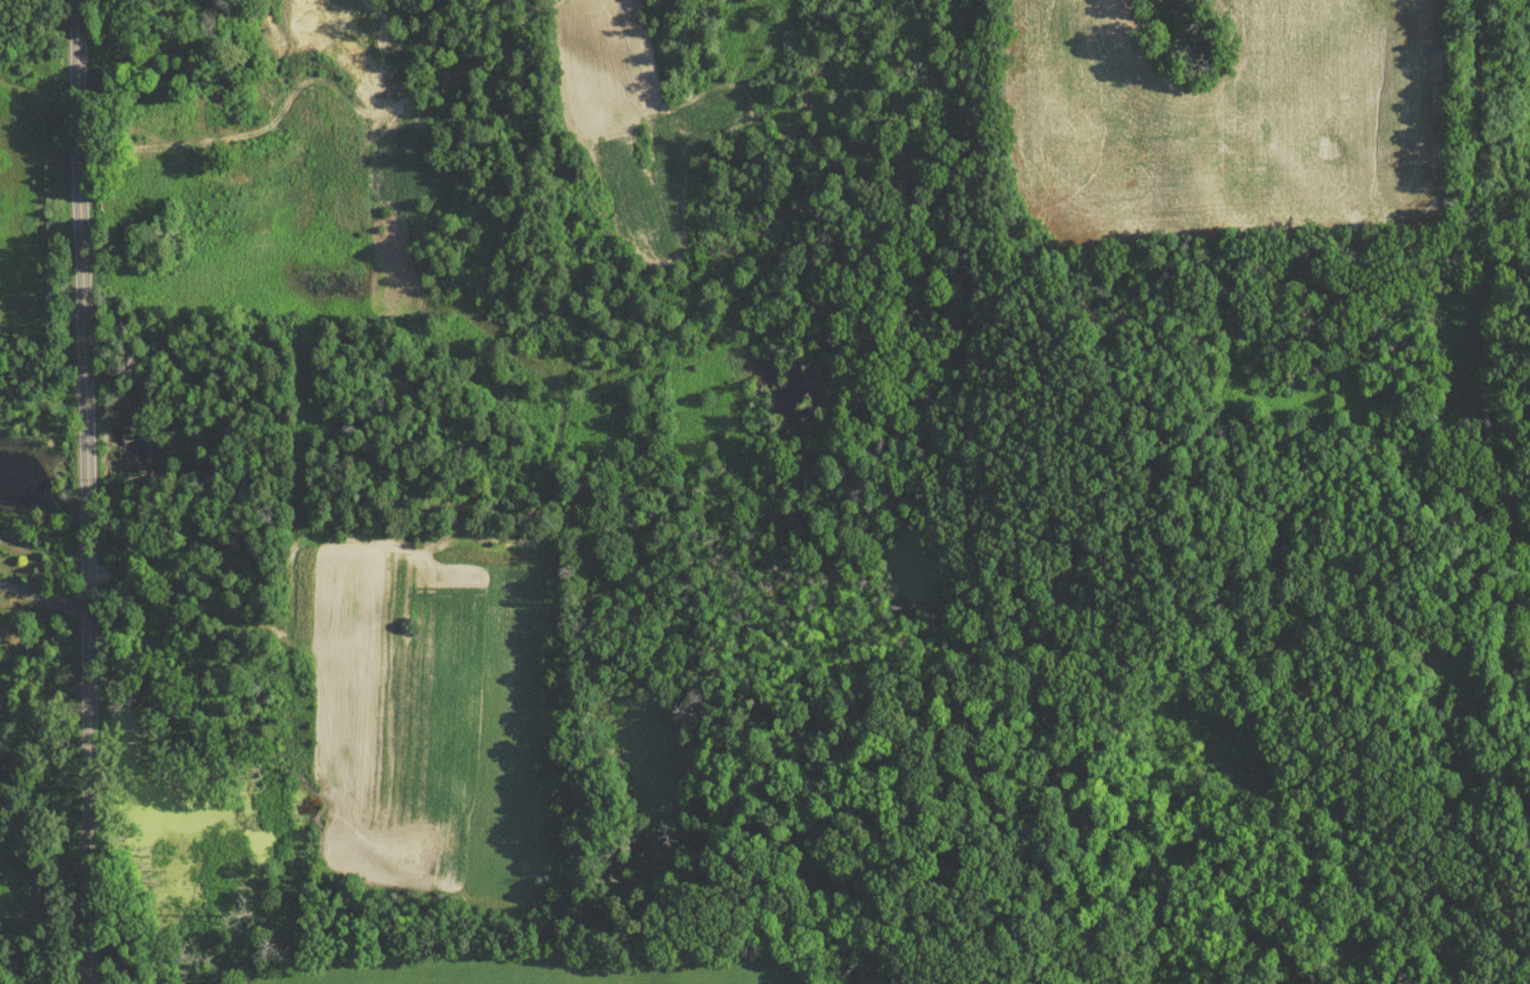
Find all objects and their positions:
building: (138, 113)
road: (86, 491)
road: (42, 596)

